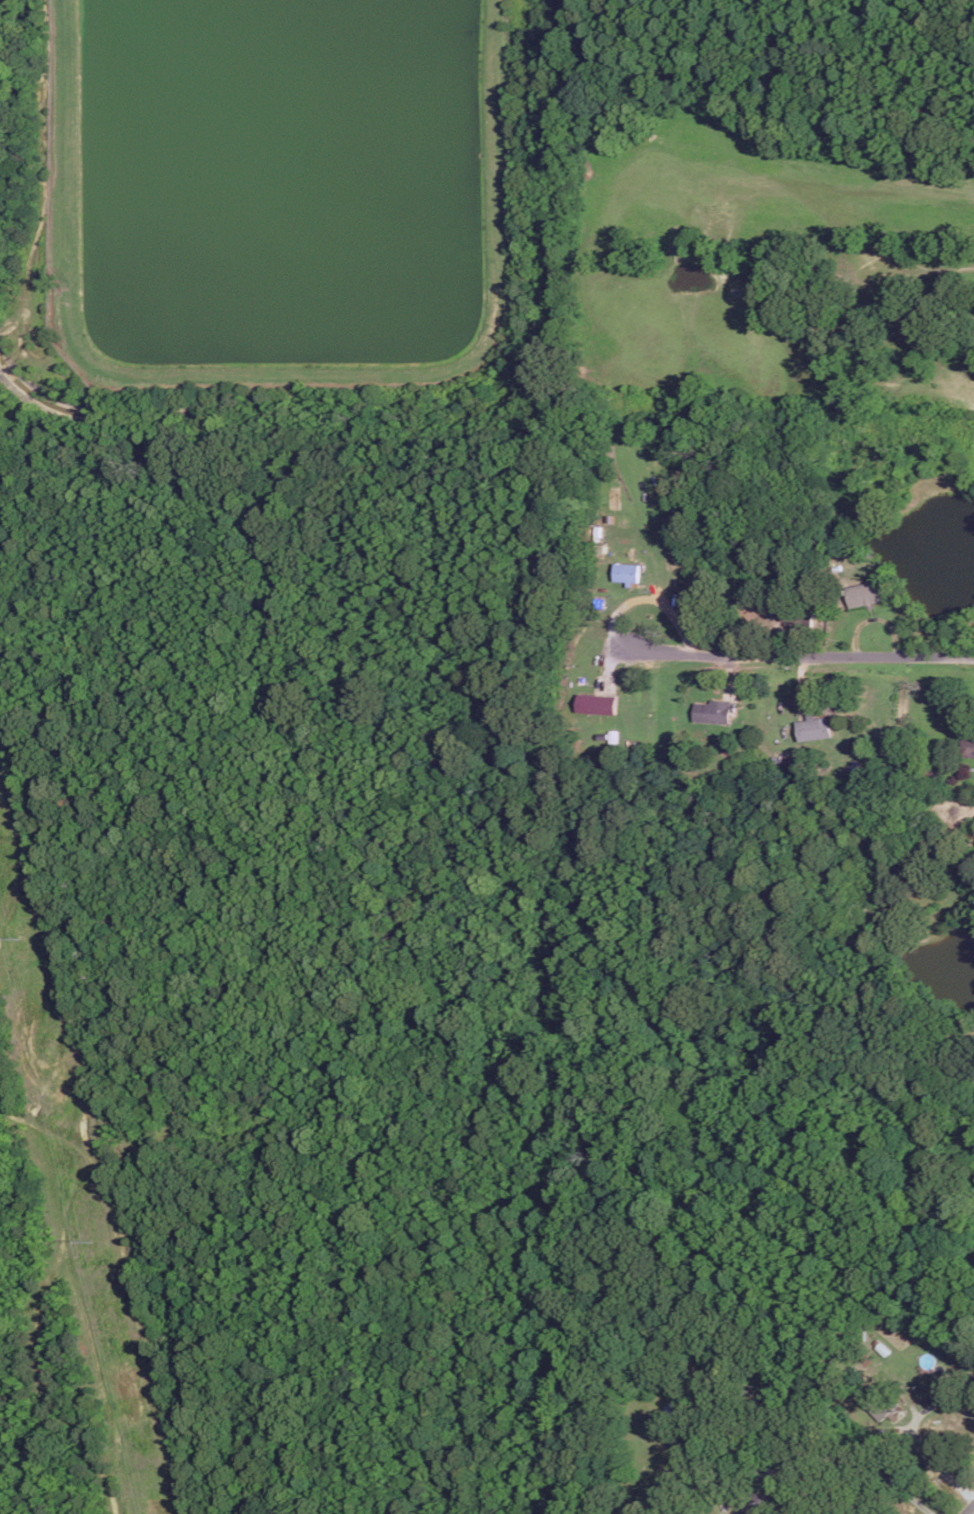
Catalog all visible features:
building: (626, 572)
building: (863, 594)
building: (798, 612)
road: (790, 652)
building: (596, 703)
building: (712, 711)
building: (814, 728)
building: (967, 747)
building: (877, 1403)
road: (930, 1461)
building: (760, 1500)
road: (967, 1507)

